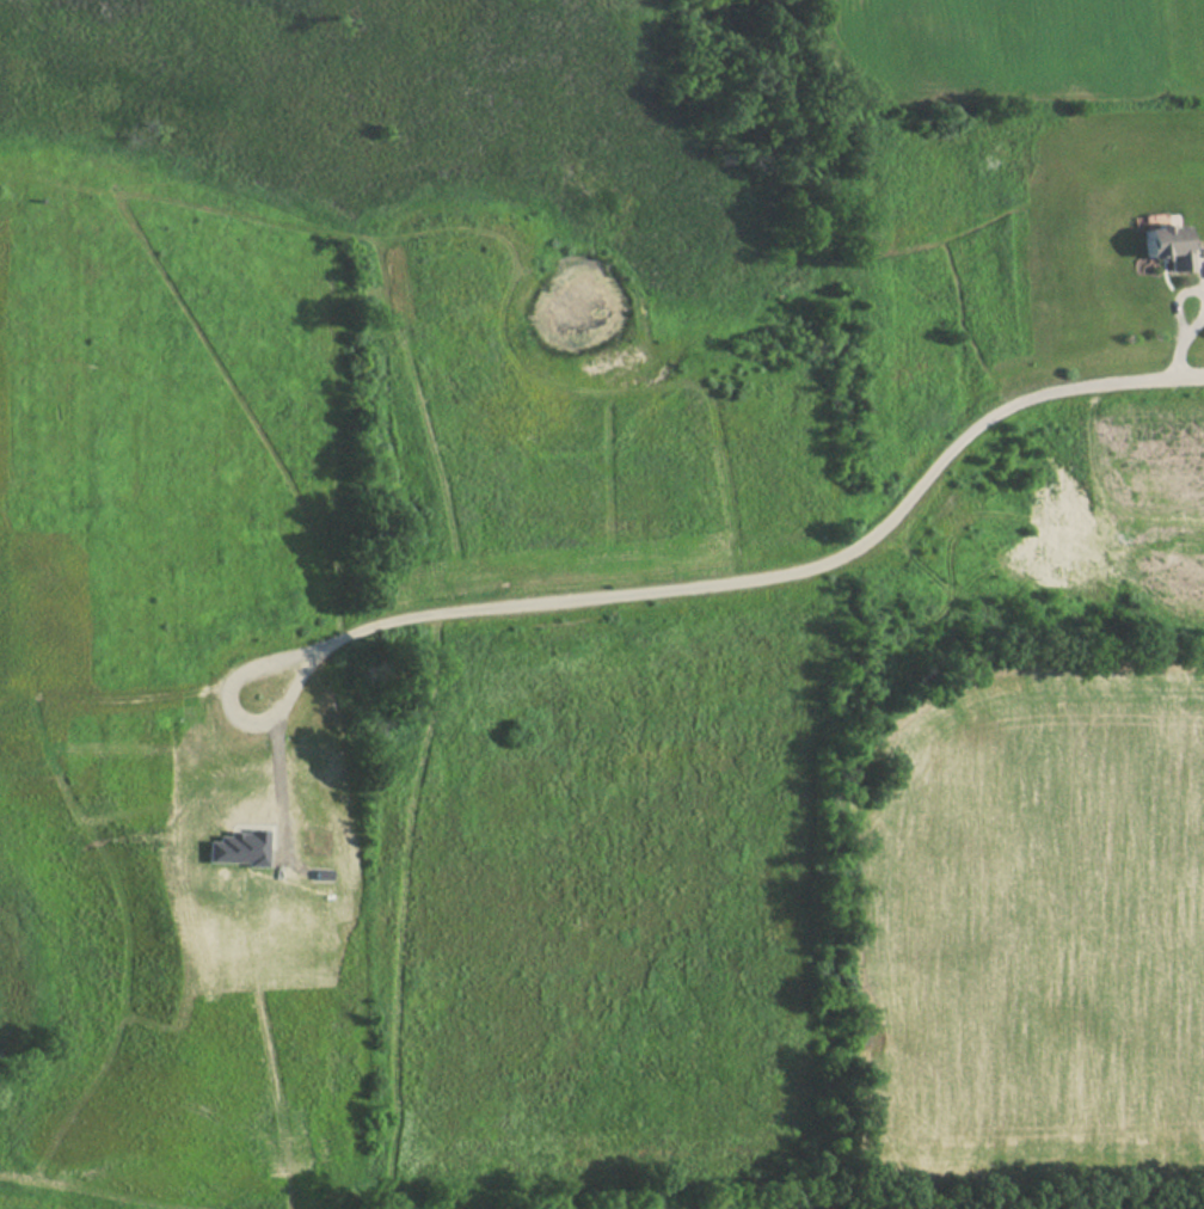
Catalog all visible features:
building: (1161, 245)
road: (749, 579)
crop: (1039, 933)

